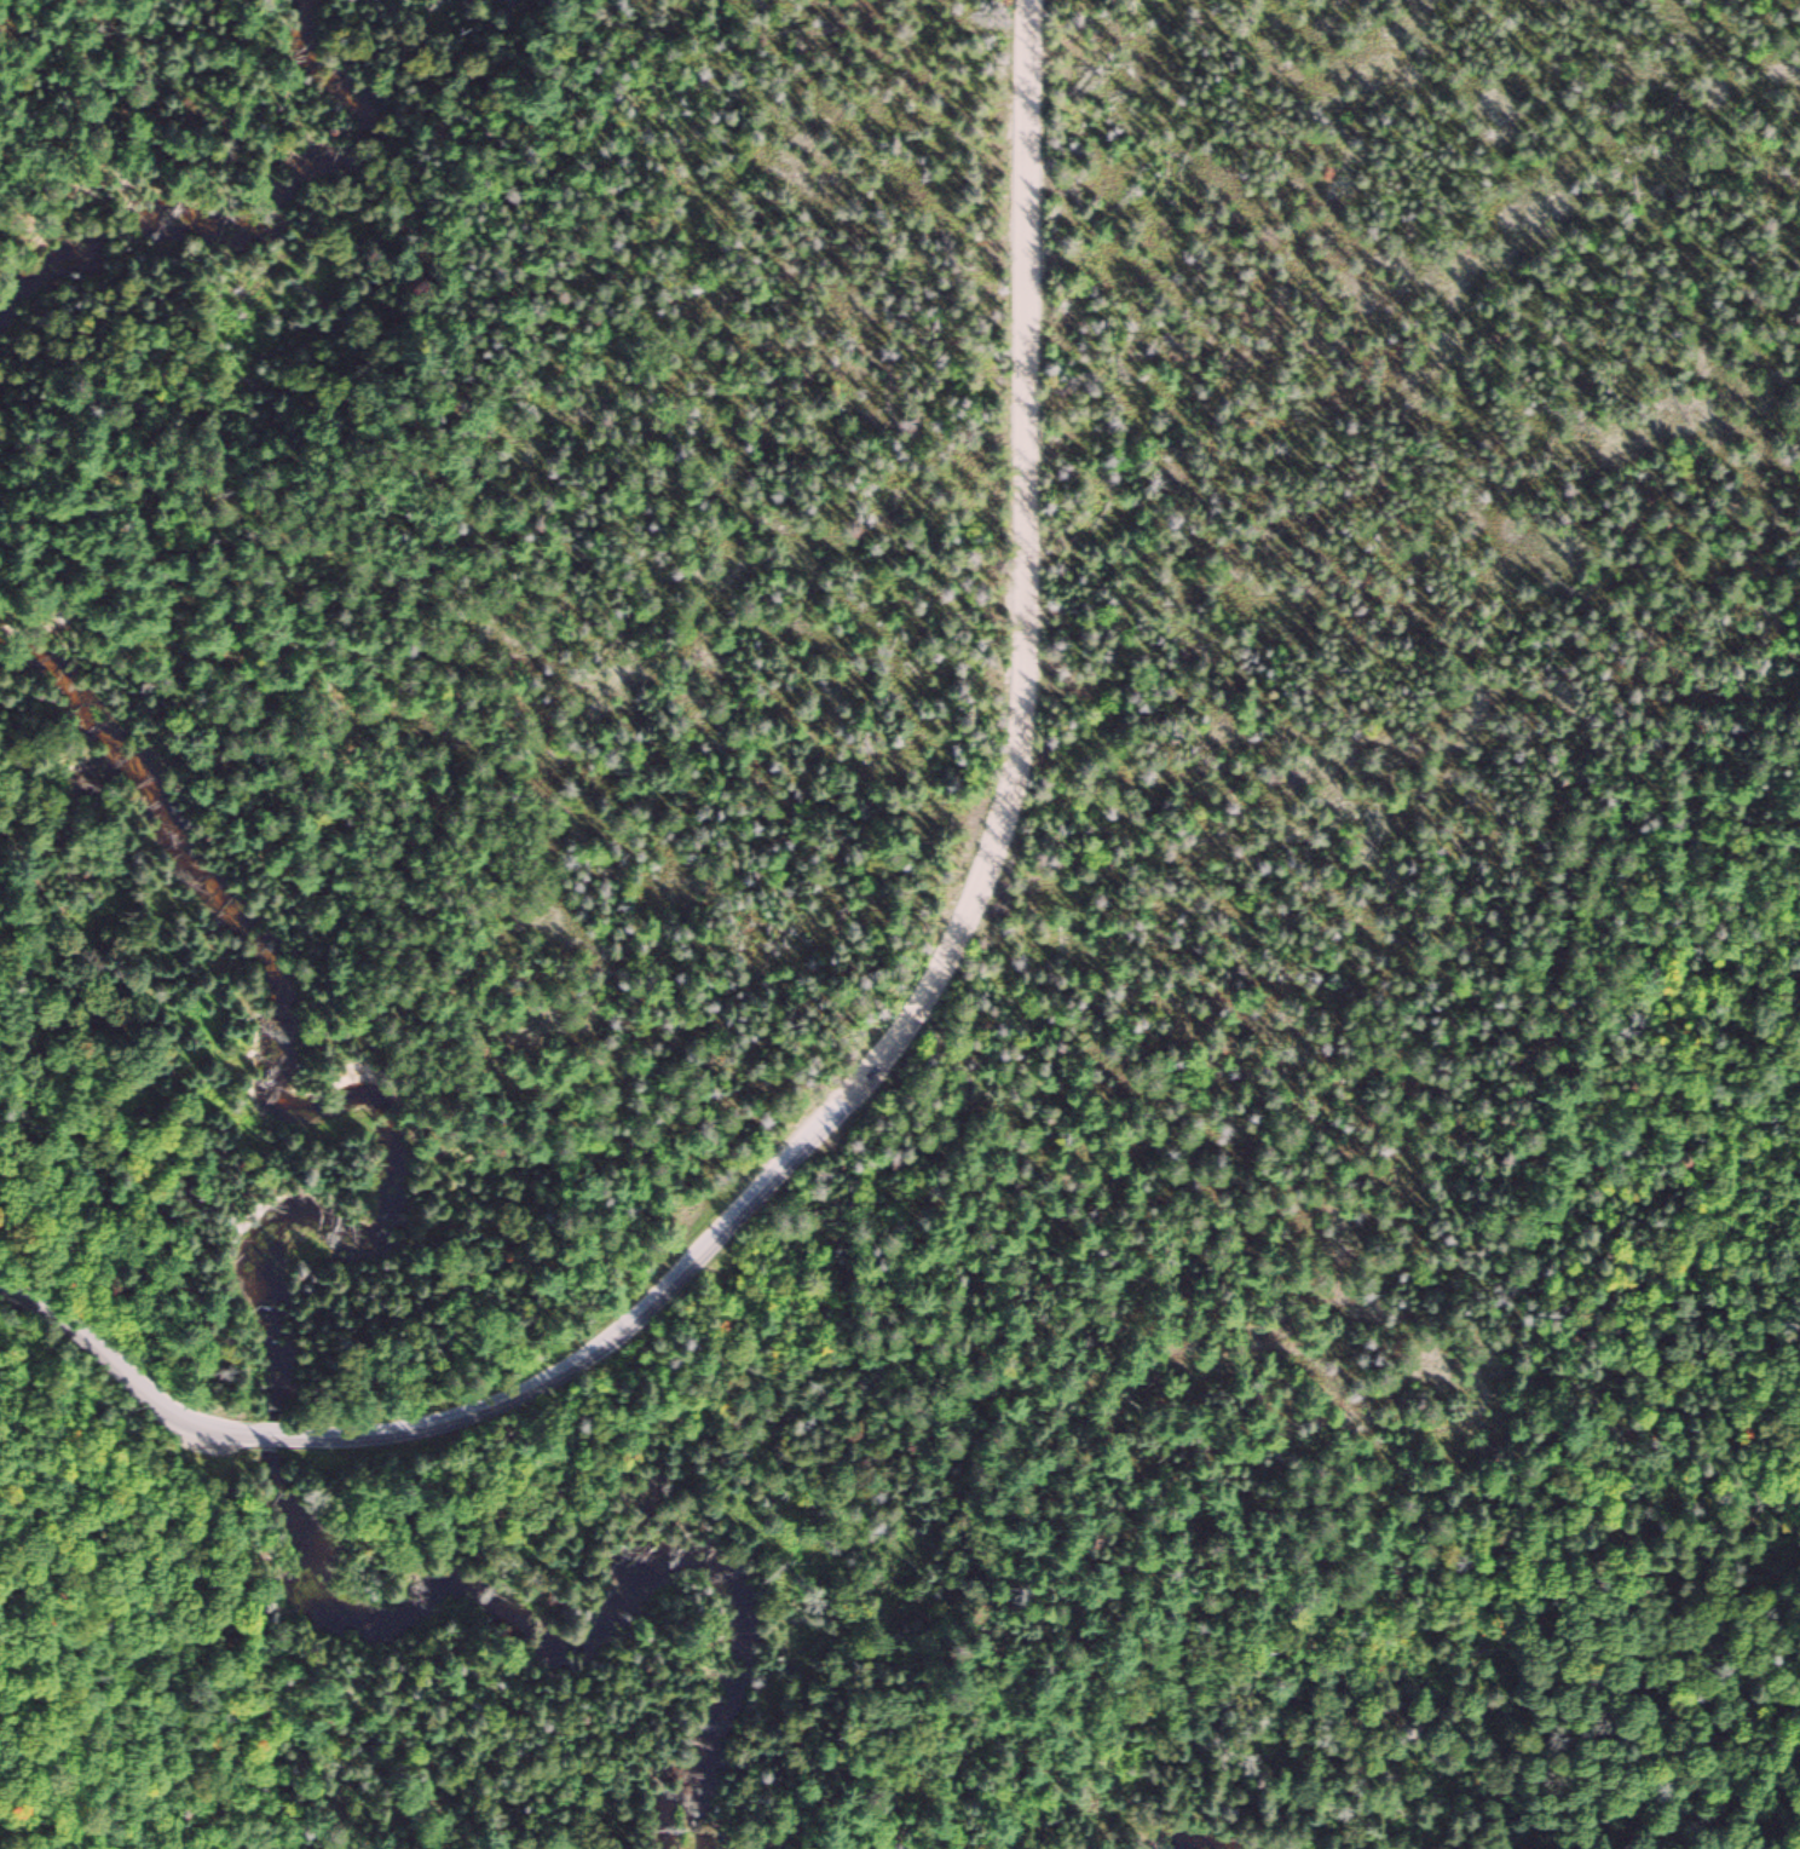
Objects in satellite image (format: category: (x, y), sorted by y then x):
river: (260, 226)
road: (1493, 837)
road: (971, 909)
river: (324, 1113)
road: (121, 1371)
road: (267, 1436)
river: (594, 1628)

